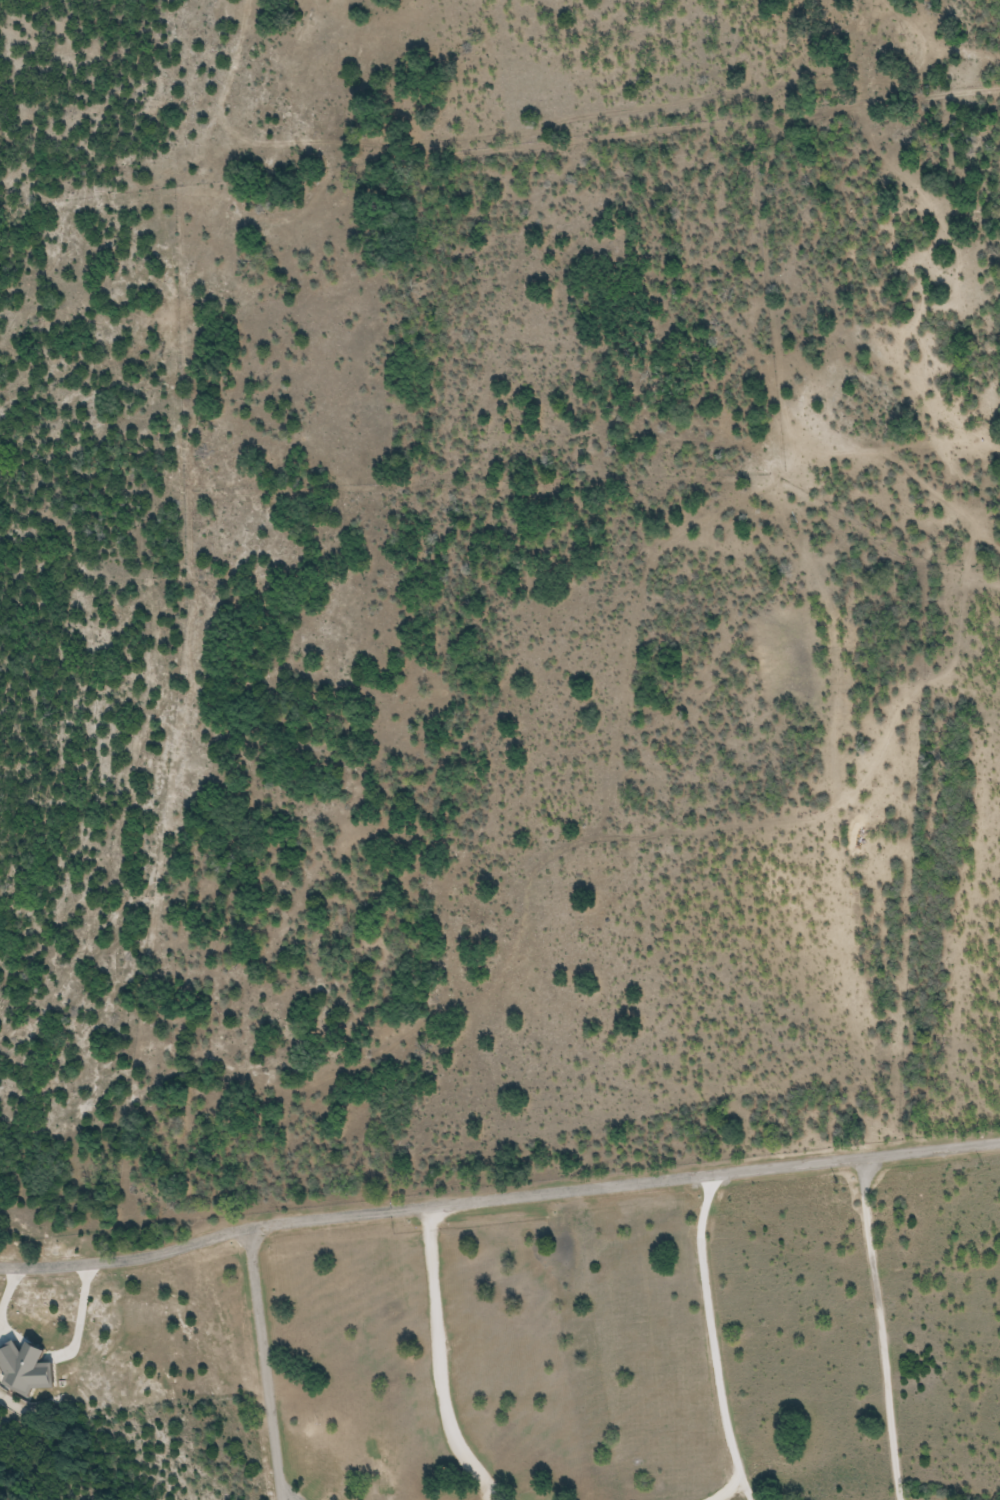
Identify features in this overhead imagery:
road: (498, 1199)
road: (879, 1329)
road: (711, 1338)
road: (440, 1359)
road: (263, 1365)
building: (32, 1369)
road: (726, 1491)

